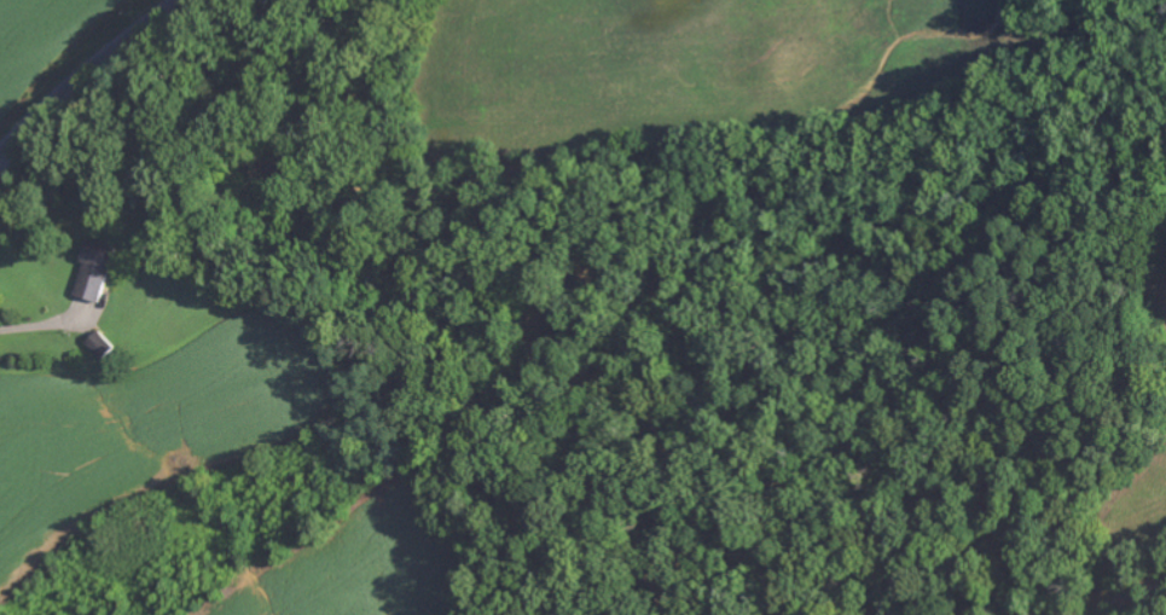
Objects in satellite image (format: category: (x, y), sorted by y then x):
road: (81, 68)
building: (95, 272)
road: (41, 326)
building: (100, 346)

